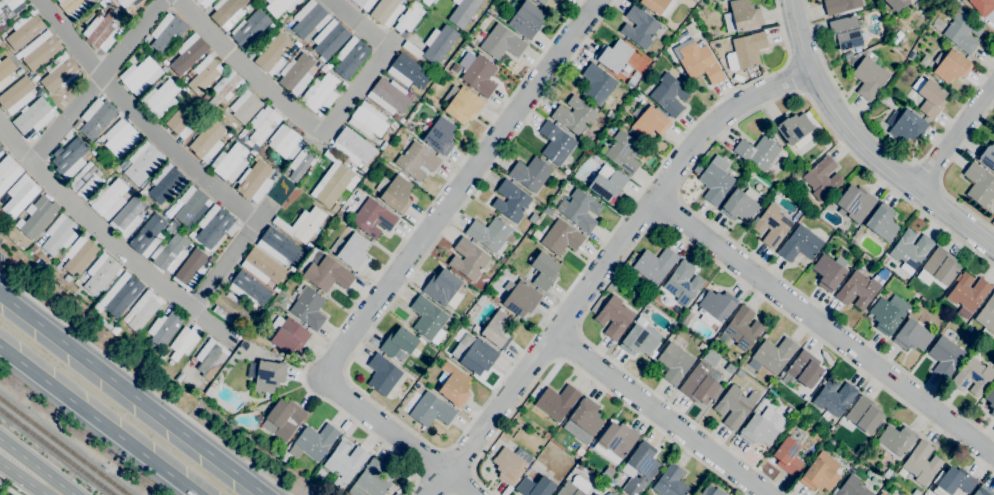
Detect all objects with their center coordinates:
building: (559, 0)
building: (542, 1)
building: (127, 2)
building: (203, 2)
building: (426, 2)
building: (103, 3)
building: (357, 3)
building: (897, 4)
building: (840, 5)
building: (74, 6)
building: (281, 6)
building: (659, 6)
building: (982, 6)
building: (8, 9)
building: (384, 11)
building: (227, 12)
building: (463, 12)
building: (741, 16)
building: (409, 17)
building: (309, 19)
building: (526, 20)
road: (359, 23)
building: (639, 26)
building: (249, 28)
building: (24, 30)
building: (102, 31)
building: (962, 31)
building: (167, 32)
building: (846, 32)
building: (329, 39)
building: (499, 42)
building: (439, 43)
building: (296, 45)
building: (411, 49)
building: (40, 50)
building: (745, 51)
building: (188, 54)
building: (274, 54)
building: (17, 55)
building: (613, 55)
building: (350, 57)
building: (699, 62)
building: (950, 65)
building: (5, 71)
building: (19, 71)
road: (247, 71)
building: (407, 71)
building: (59, 72)
building: (190, 74)
building: (204, 74)
building: (296, 74)
building: (480, 75)
building: (140, 76)
building: (737, 77)
road: (794, 77)
building: (34, 78)
building: (868, 78)
road: (96, 81)
building: (597, 84)
building: (225, 88)
road: (355, 90)
building: (668, 93)
building: (320, 94)
building: (16, 95)
building: (389, 96)
building: (929, 96)
building: (205, 97)
building: (160, 98)
building: (461, 103)
building: (245, 106)
road: (141, 114)
building: (574, 115)
building: (33, 116)
building: (184, 116)
building: (96, 118)
building: (367, 120)
building: (650, 122)
building: (76, 124)
building: (263, 126)
building: (907, 126)
building: (794, 129)
building: (440, 136)
road: (954, 136)
building: (120, 138)
building: (207, 141)
building: (285, 143)
building: (556, 143)
road: (882, 143)
road: (862, 146)
building: (352, 147)
building: (0, 148)
building: (0, 150)
building: (0, 152)
building: (623, 152)
building: (757, 152)
building: (252, 153)
building: (986, 155)
building: (69, 157)
building: (595, 157)
building: (416, 160)
building: (301, 162)
building: (142, 163)
building: (229, 163)
building: (749, 170)
road: (942, 170)
building: (8, 172)
building: (530, 173)
building: (822, 178)
building: (86, 181)
building: (254, 181)
building: (332, 181)
road: (681, 181)
building: (166, 183)
building: (606, 183)
building: (715, 183)
building: (979, 184)
road: (459, 189)
building: (143, 192)
building: (394, 192)
building: (777, 192)
building: (19, 195)
road: (677, 195)
building: (108, 198)
building: (511, 201)
building: (855, 203)
building: (740, 204)
building: (191, 205)
road: (665, 209)
building: (581, 210)
building: (128, 216)
building: (36, 217)
building: (373, 218)
road: (94, 219)
building: (881, 223)
building: (302, 224)
road: (654, 224)
road: (665, 225)
building: (772, 225)
building: (213, 226)
building: (489, 233)
building: (60, 234)
building: (148, 236)
building: (561, 237)
parking lot: (1, 240)
building: (800, 244)
building: (279, 246)
building: (910, 250)
building: (351, 251)
building: (170, 253)
building: (75, 258)
parking lot: (2, 259)
building: (468, 259)
road: (389, 261)
building: (654, 264)
road: (602, 265)
building: (262, 266)
building: (938, 268)
building: (190, 269)
building: (544, 271)
building: (829, 272)
building: (101, 274)
building: (327, 274)
building: (681, 283)
road: (211, 285)
building: (443, 288)
building: (248, 289)
building: (857, 290)
building: (121, 294)
building: (967, 294)
building: (917, 296)
building: (520, 297)
building: (480, 299)
building: (496, 300)
building: (103, 301)
building: (307, 306)
building: (716, 306)
building: (229, 309)
building: (143, 310)
building: (887, 314)
building: (614, 317)
building: (685, 318)
building: (987, 318)
road: (33, 319)
building: (428, 319)
road: (822, 327)
building: (164, 328)
road: (577, 328)
building: (475, 329)
building: (498, 329)
building: (741, 329)
building: (969, 329)
building: (288, 335)
building: (912, 336)
building: (143, 340)
building: (638, 341)
building: (184, 342)
road: (566, 343)
building: (399, 344)
building: (701, 346)
building: (474, 354)
building: (774, 354)
building: (945, 357)
building: (210, 358)
building: (710, 358)
road: (556, 359)
building: (674, 363)
building: (729, 368)
building: (804, 369)
road: (582, 372)
building: (382, 374)
building: (739, 374)
building: (266, 375)
building: (972, 376)
road: (145, 383)
building: (453, 384)
building: (699, 384)
building: (834, 397)
building: (990, 399)
building: (557, 402)
building: (735, 406)
building: (431, 410)
road: (659, 414)
building: (864, 414)
building: (283, 419)
road: (165, 420)
road: (97, 421)
building: (583, 421)
building: (757, 431)
building: (547, 435)
road: (397, 436)
building: (895, 441)
building: (313, 442)
building: (615, 442)
building: (832, 442)
railway: (63, 447)
road: (441, 448)
building: (579, 451)
railway: (56, 452)
building: (283, 456)
building: (787, 456)
road: (8, 457)
building: (289, 460)
road: (8, 463)
building: (344, 463)
building: (921, 463)
building: (511, 464)
building: (641, 468)
building: (320, 473)
building: (820, 473)
building: (887, 473)
building: (370, 480)
road: (35, 481)
building: (670, 481)
building: (953, 481)
building: (535, 486)
building: (574, 487)
building: (853, 487)
road: (8, 489)
building: (711, 490)
building: (982, 491)
building: (882, 493)
building: (833, 494)

